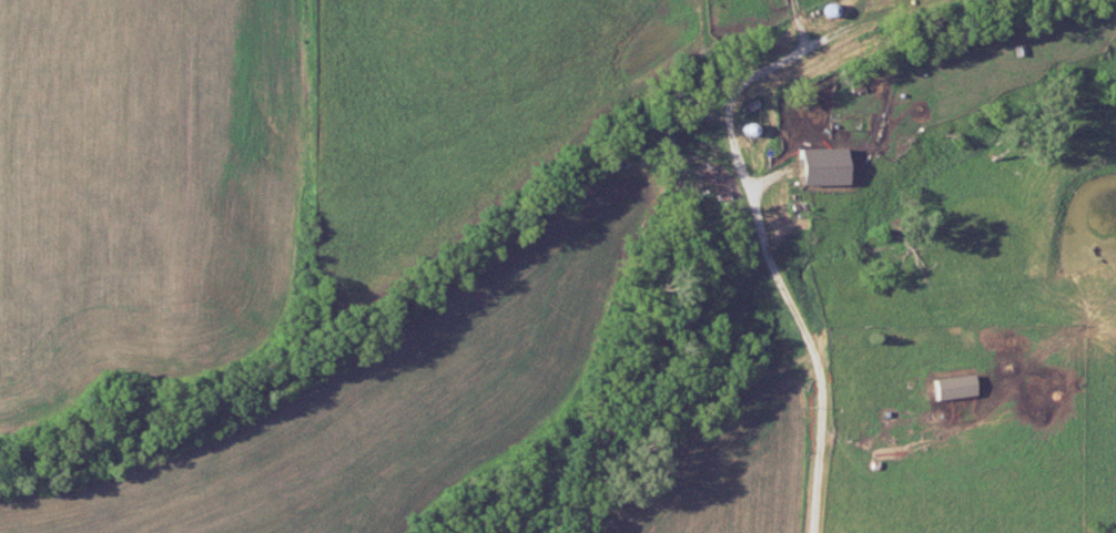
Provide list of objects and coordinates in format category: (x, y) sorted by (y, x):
building: (825, 164)
road: (809, 335)
building: (955, 385)

